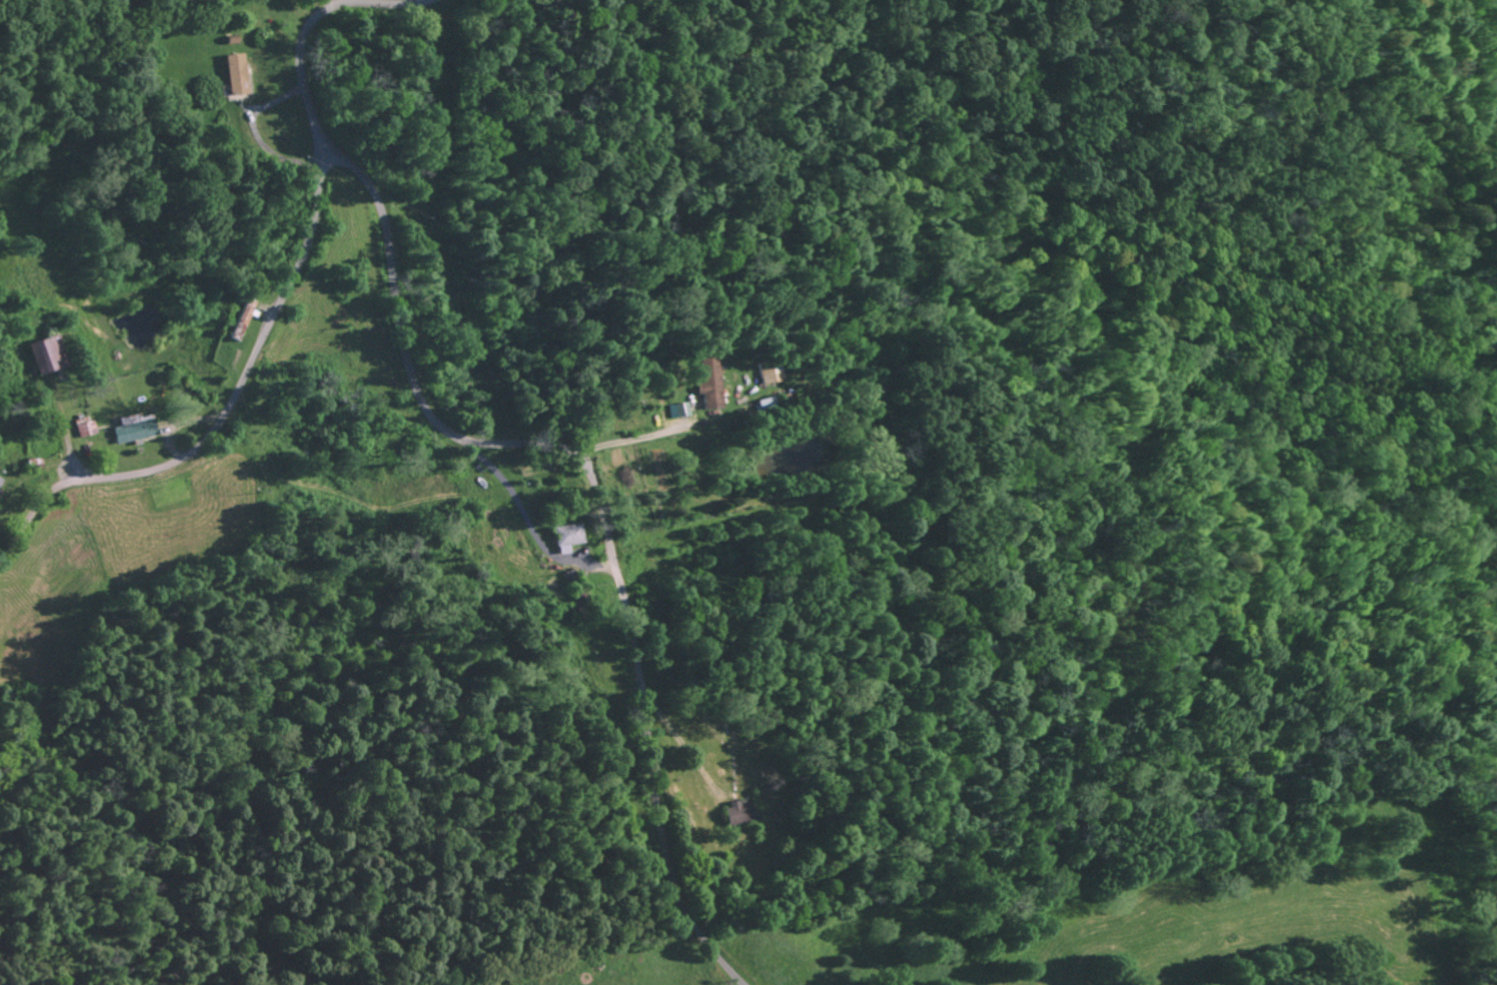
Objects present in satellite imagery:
road: (333, 3)
building: (235, 74)
road: (279, 302)
building: (47, 354)
building: (769, 372)
building: (710, 381)
road: (86, 386)
building: (682, 409)
building: (83, 426)
building: (133, 430)
building: (0, 480)
road: (598, 501)
building: (568, 536)
building: (740, 812)
road: (30, 895)

